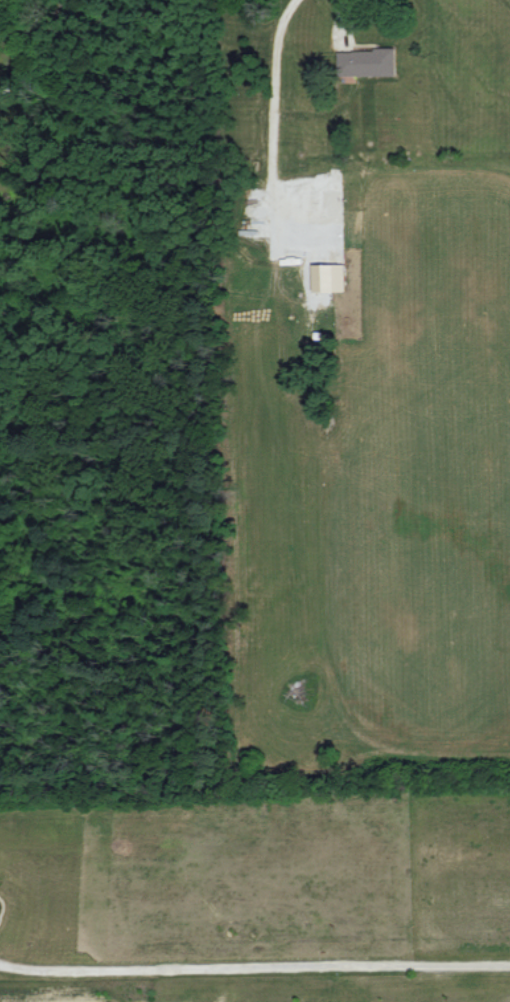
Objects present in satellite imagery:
road: (345, 7)
building: (367, 62)
building: (329, 277)
road: (254, 968)

